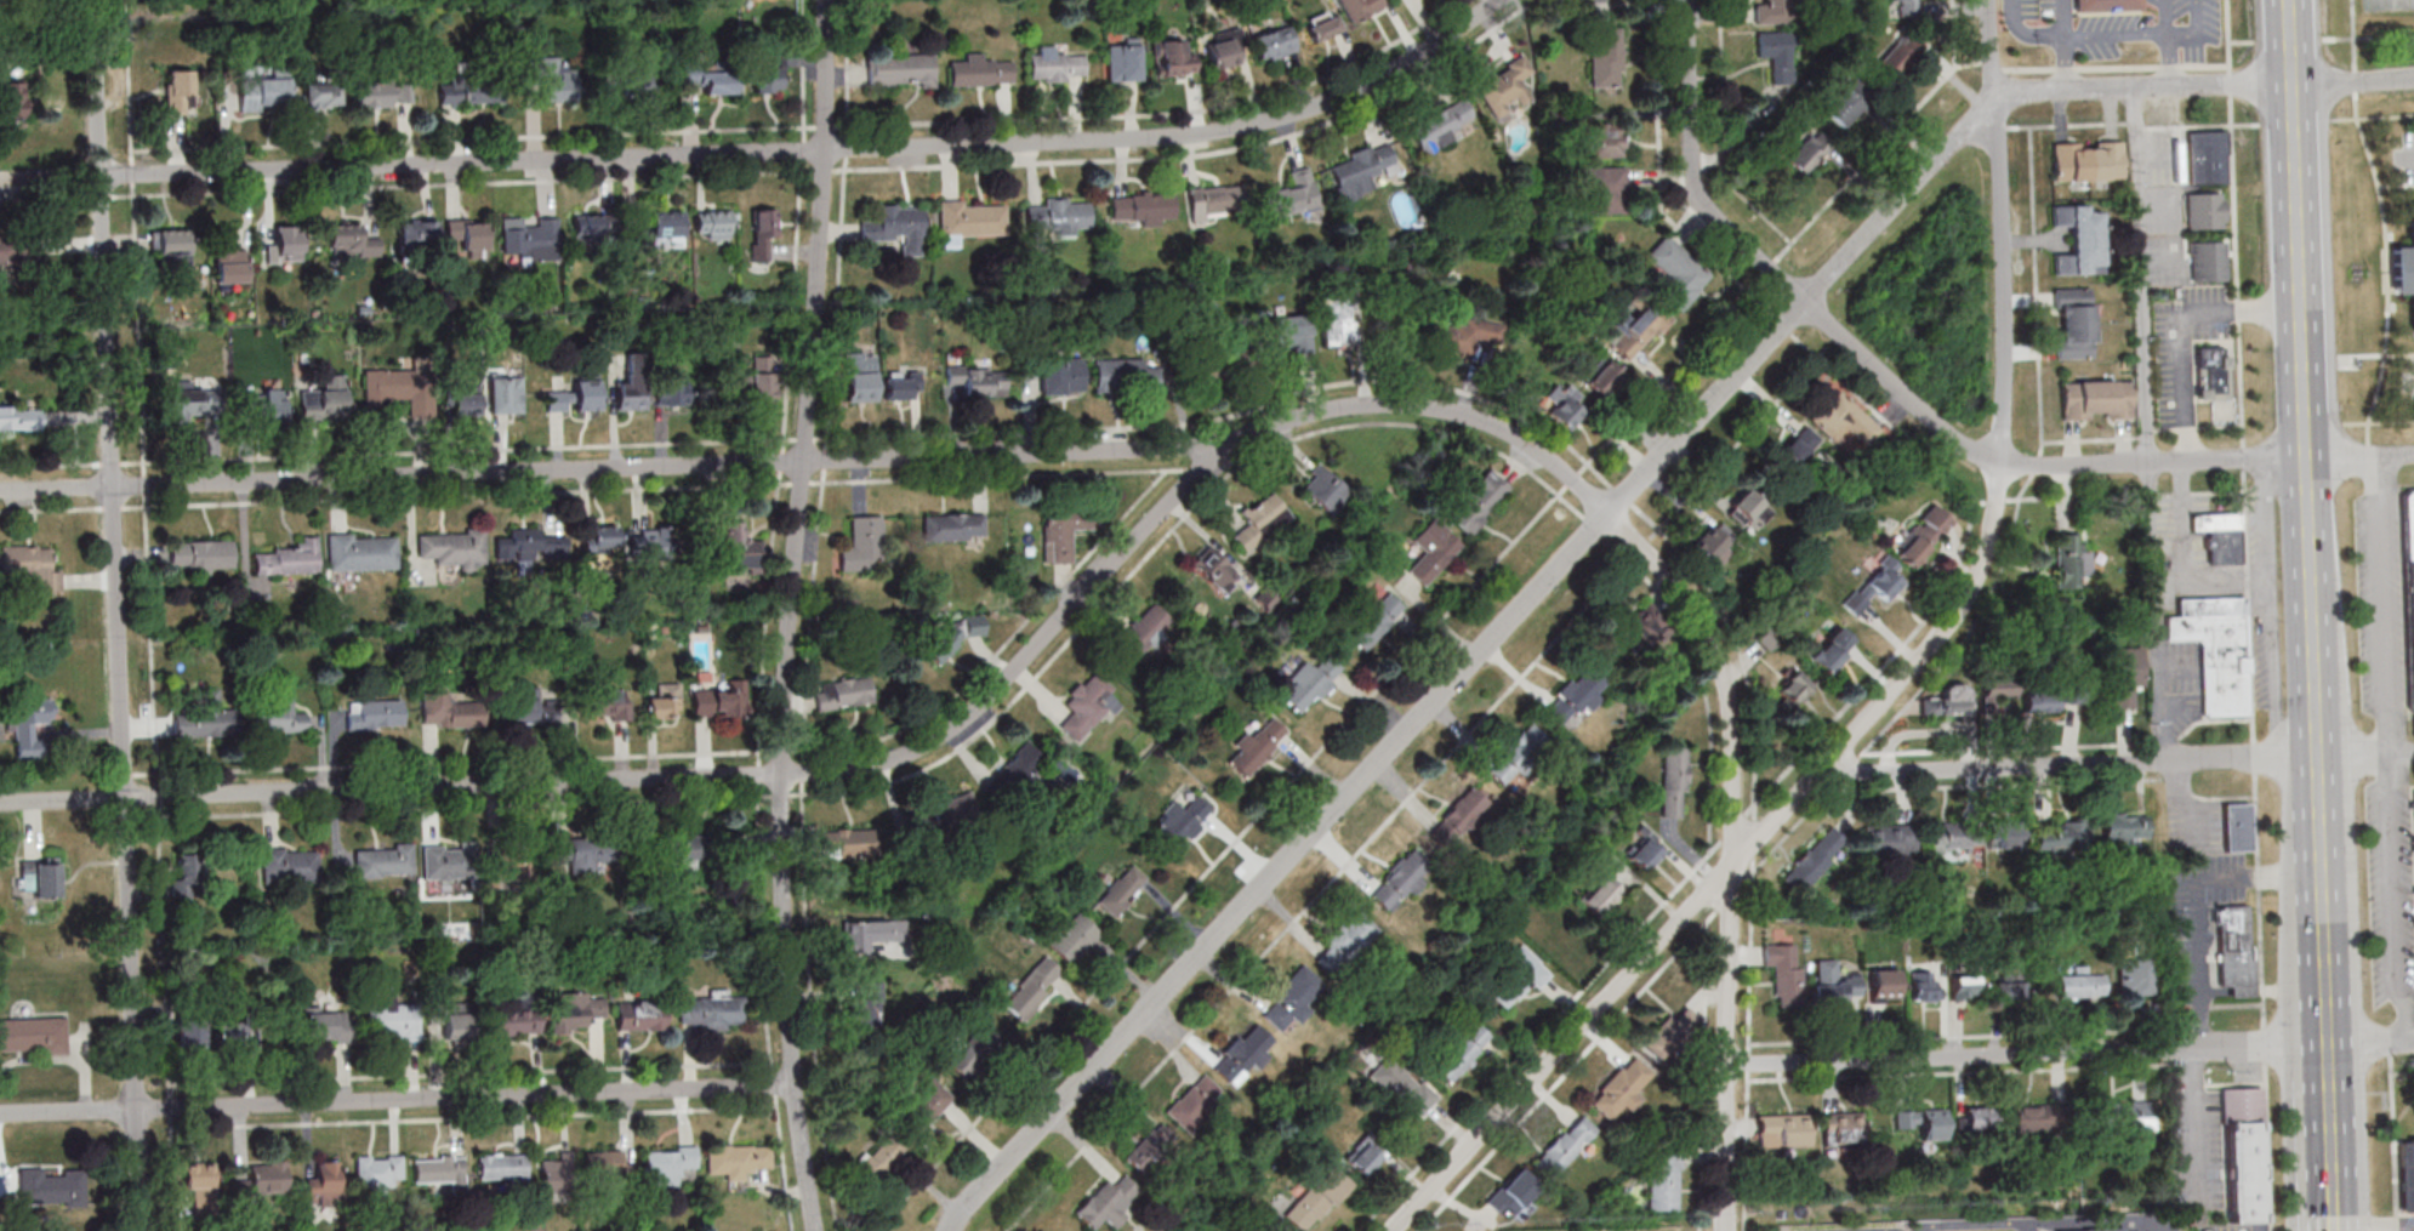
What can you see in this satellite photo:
building: (2103, 6)
building: (1359, 7)
building: (1907, 7)
building: (1775, 12)
road: (2165, 18)
road: (2065, 19)
building: (1322, 25)
road: (1954, 33)
road: (2198, 34)
road: (2025, 35)
road: (2368, 36)
road: (2116, 39)
road: (2242, 40)
road: (2289, 40)
building: (1274, 44)
building: (1902, 52)
building: (1223, 53)
building: (1777, 55)
building: (1606, 57)
building: (1173, 58)
building: (1123, 62)
road: (2167, 62)
building: (767, 64)
road: (2066, 64)
building: (1055, 65)
road: (1989, 65)
road: (2114, 67)
building: (900, 69)
building: (980, 72)
building: (712, 75)
building: (551, 78)
road: (2353, 80)
building: (630, 82)
building: (262, 85)
building: (1505, 87)
building: (471, 89)
building: (178, 91)
building: (381, 92)
building: (13, 95)
building: (321, 95)
building: (1849, 102)
road: (2372, 116)
road: (2295, 121)
road: (2067, 125)
road: (2136, 125)
building: (1440, 126)
road: (2203, 126)
road: (2000, 127)
road: (1721, 133)
building: (1605, 141)
road: (768, 150)
building: (1809, 153)
building: (2207, 156)
road: (2406, 156)
parking lot: (2409, 156)
building: (2088, 160)
building: (1360, 170)
building: (1602, 189)
building: (1293, 194)
building: (1214, 201)
building: (1141, 209)
building: (2204, 210)
building: (1059, 217)
building: (970, 221)
road: (2384, 221)
building: (714, 226)
building: (659, 227)
building: (593, 228)
building: (898, 228)
building: (419, 233)
building: (762, 233)
building: (469, 236)
building: (530, 238)
building: (2079, 240)
building: (352, 241)
building: (281, 247)
building: (16, 249)
building: (173, 249)
building: (230, 260)
building: (2208, 261)
building: (2404, 262)
road: (1767, 268)
building: (1678, 273)
road: (2141, 274)
building: (1337, 323)
building: (2074, 323)
road: (2182, 327)
building: (1639, 330)
building: (1292, 332)
building: (1462, 335)
road: (1812, 353)
building: (1218, 366)
building: (2211, 372)
parking lot: (2413, 372)
road: (1883, 375)
building: (860, 376)
building: (1061, 376)
building: (1126, 376)
road: (2304, 377)
building: (1604, 378)
building: (762, 380)
building: (978, 380)
road: (2410, 382)
building: (901, 386)
building: (671, 388)
building: (402, 389)
building: (631, 394)
building: (577, 395)
building: (506, 397)
building: (325, 399)
building: (2097, 399)
building: (192, 404)
building: (462, 404)
building: (1564, 405)
building: (263, 406)
building: (18, 418)
building: (1844, 420)
road: (2378, 422)
road: (2243, 424)
building: (1798, 449)
road: (2359, 454)
road: (825, 462)
building: (1326, 489)
road: (2027, 498)
building: (1479, 501)
road: (1995, 501)
building: (1744, 507)
road: (1613, 509)
road: (2181, 519)
building: (1262, 522)
road: (2165, 525)
building: (953, 526)
building: (1063, 531)
building: (1923, 535)
building: (2219, 535)
building: (600, 538)
building: (654, 542)
building: (1713, 545)
building: (530, 546)
building: (741, 546)
building: (862, 546)
building: (452, 548)
building: (1433, 551)
building: (363, 552)
building: (204, 555)
building: (289, 559)
building: (2071, 560)
building: (29, 568)
building: (1215, 569)
road: (2211, 577)
building: (1884, 581)
building: (2409, 586)
road: (2382, 603)
road: (2272, 606)
road: (2154, 610)
road: (119, 615)
road: (793, 615)
building: (1374, 620)
building: (1647, 625)
road: (1971, 629)
building: (1143, 634)
building: (950, 640)
building: (2216, 650)
building: (1826, 657)
building: (2127, 674)
building: (1310, 683)
building: (1793, 689)
building: (1998, 689)
building: (2061, 689)
building: (843, 694)
road: (1886, 695)
building: (1575, 696)
building: (723, 700)
building: (1948, 701)
building: (665, 702)
building: (608, 705)
building: (1089, 705)
building: (528, 707)
building: (449, 712)
building: (376, 714)
building: (283, 717)
road: (2213, 720)
building: (206, 722)
building: (27, 728)
road: (1932, 734)
road: (2167, 741)
building: (1257, 745)
road: (2009, 748)
road: (2402, 752)
building: (1516, 753)
road: (2353, 754)
road: (2068, 763)
building: (1018, 771)
road: (677, 779)
building: (1674, 781)
road: (2413, 786)
road: (2187, 802)
road: (2318, 802)
building: (2413, 804)
building: (945, 815)
building: (1458, 817)
building: (1182, 821)
building: (2237, 827)
building: (2125, 828)
building: (2009, 834)
building: (2062, 837)
building: (1947, 838)
building: (1890, 839)
building: (843, 843)
building: (1645, 850)
building: (684, 851)
road: (1733, 853)
building: (577, 855)
building: (1814, 860)
building: (383, 861)
building: (445, 862)
building: (511, 862)
building: (290, 865)
building: (187, 874)
building: (42, 877)
building: (1401, 879)
building: (1122, 890)
building: (1601, 896)
road: (2393, 900)
road: (2194, 902)
road: (2322, 908)
building: (870, 933)
building: (1072, 936)
building: (1348, 941)
building: (2233, 951)
building: (1786, 973)
building: (2135, 976)
building: (1518, 978)
building: (1833, 984)
building: (2080, 985)
building: (1885, 986)
building: (1925, 986)
building: (2006, 986)
building: (1964, 987)
building: (1034, 988)
building: (1292, 999)
building: (867, 1007)
road: (2325, 1009)
building: (713, 1011)
building: (579, 1013)
building: (640, 1015)
building: (451, 1020)
building: (517, 1021)
building: (392, 1022)
building: (326, 1025)
building: (190, 1033)
building: (228, 1033)
building: (1672, 1033)
building: (33, 1036)
road: (2265, 1041)
road: (2369, 1047)
building: (1462, 1052)
building: (972, 1053)
road: (2390, 1053)
building: (1243, 1055)
road: (2027, 1056)
road: (2327, 1068)
building: (1406, 1087)
building: (1623, 1088)
road: (397, 1099)
building: (1195, 1102)
building: (923, 1105)
building: (2128, 1116)
building: (1977, 1118)
building: (2031, 1118)
building: (1906, 1119)
road: (2196, 1122)
building: (1932, 1124)
building: (1841, 1129)
building: (1783, 1130)
road: (2392, 1144)
building: (1565, 1146)
road: (2330, 1146)
building: (1152, 1149)
building: (2242, 1155)
building: (1365, 1157)
building: (879, 1158)
building: (736, 1159)
building: (604, 1163)
building: (667, 1164)
building: (502, 1167)
building: (377, 1170)
building: (439, 1170)
building: (554, 1173)
building: (2407, 1173)
building: (200, 1179)
building: (1664, 1180)
building: (261, 1181)
building: (324, 1184)
road: (984, 1185)
building: (51, 1187)
building: (1513, 1193)
building: (1316, 1198)
building: (1108, 1203)
road: (2333, 1216)
road: (2088, 1219)
road: (1974, 1225)
road: (2373, 1226)
building: (2100, 1230)
building: (2137, 1230)
road: (2334, 1230)

